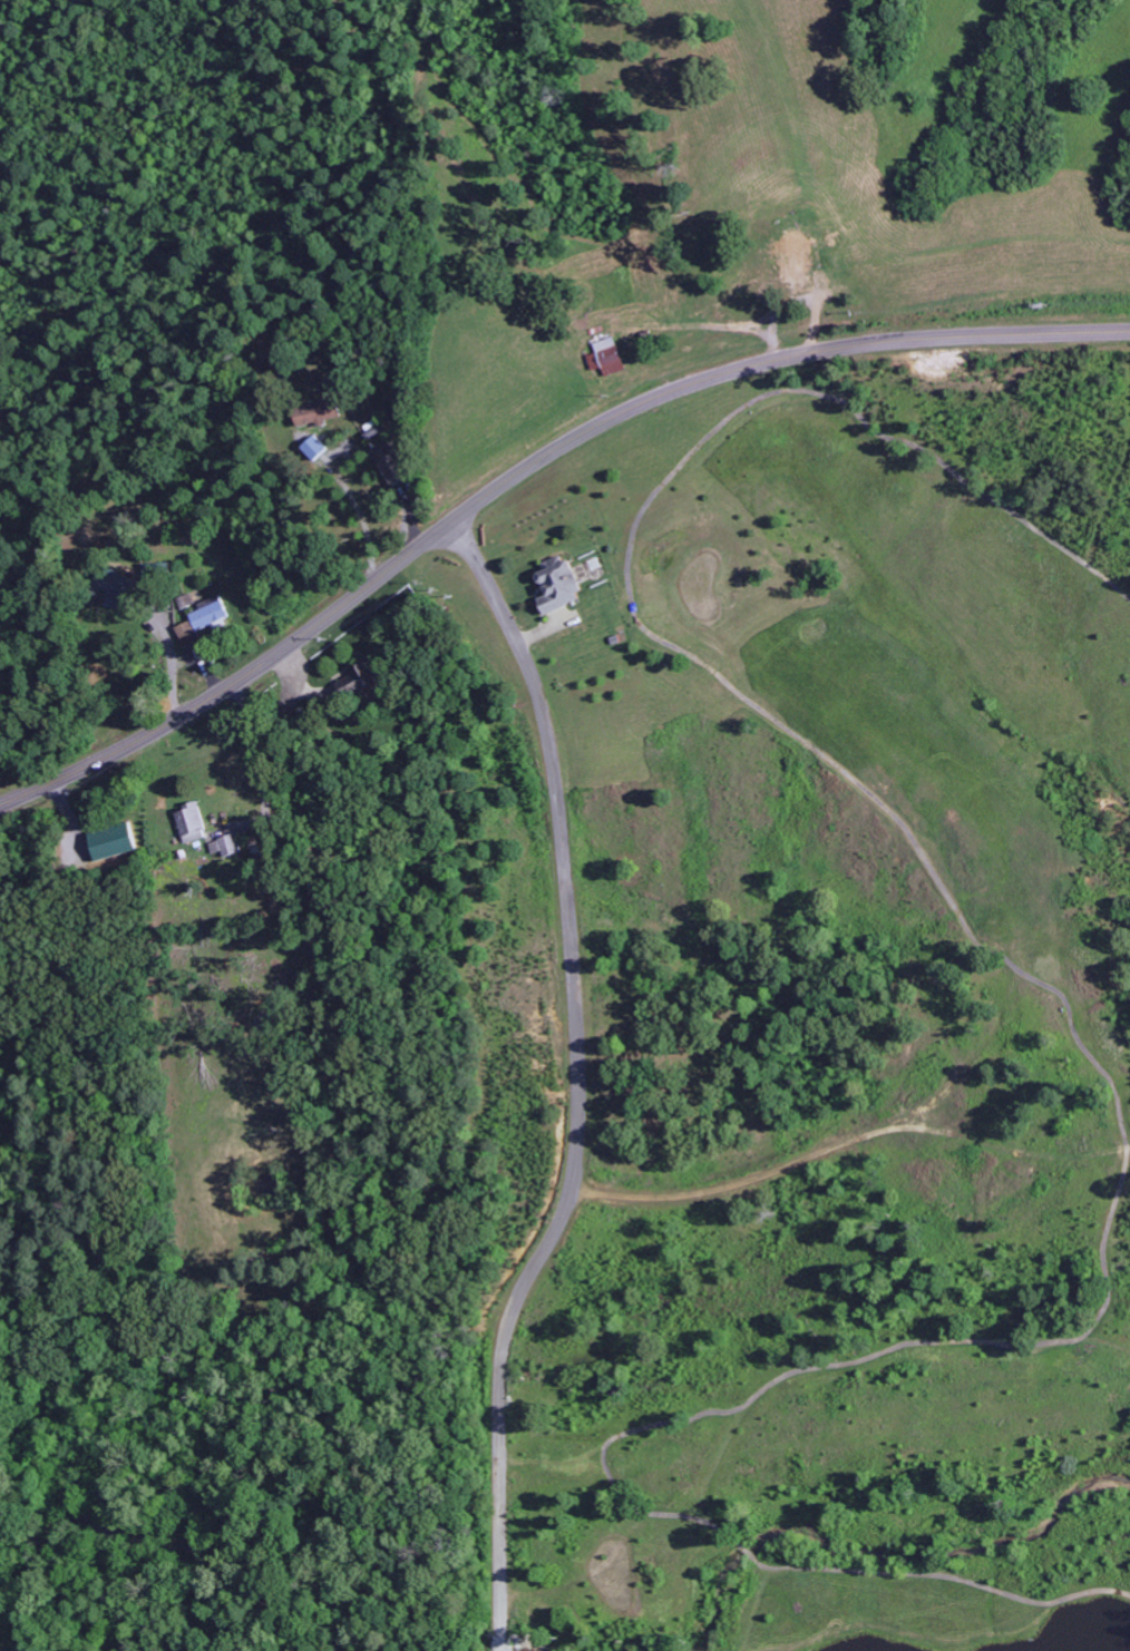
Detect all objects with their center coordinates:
building: (795, 255)
building: (605, 355)
building: (315, 412)
building: (313, 446)
building: (389, 461)
road: (527, 469)
building: (557, 585)
building: (109, 587)
building: (184, 599)
building: (201, 619)
building: (358, 678)
road: (547, 730)
building: (191, 822)
building: (110, 840)
building: (226, 844)
road: (318, 963)
road: (517, 1298)

